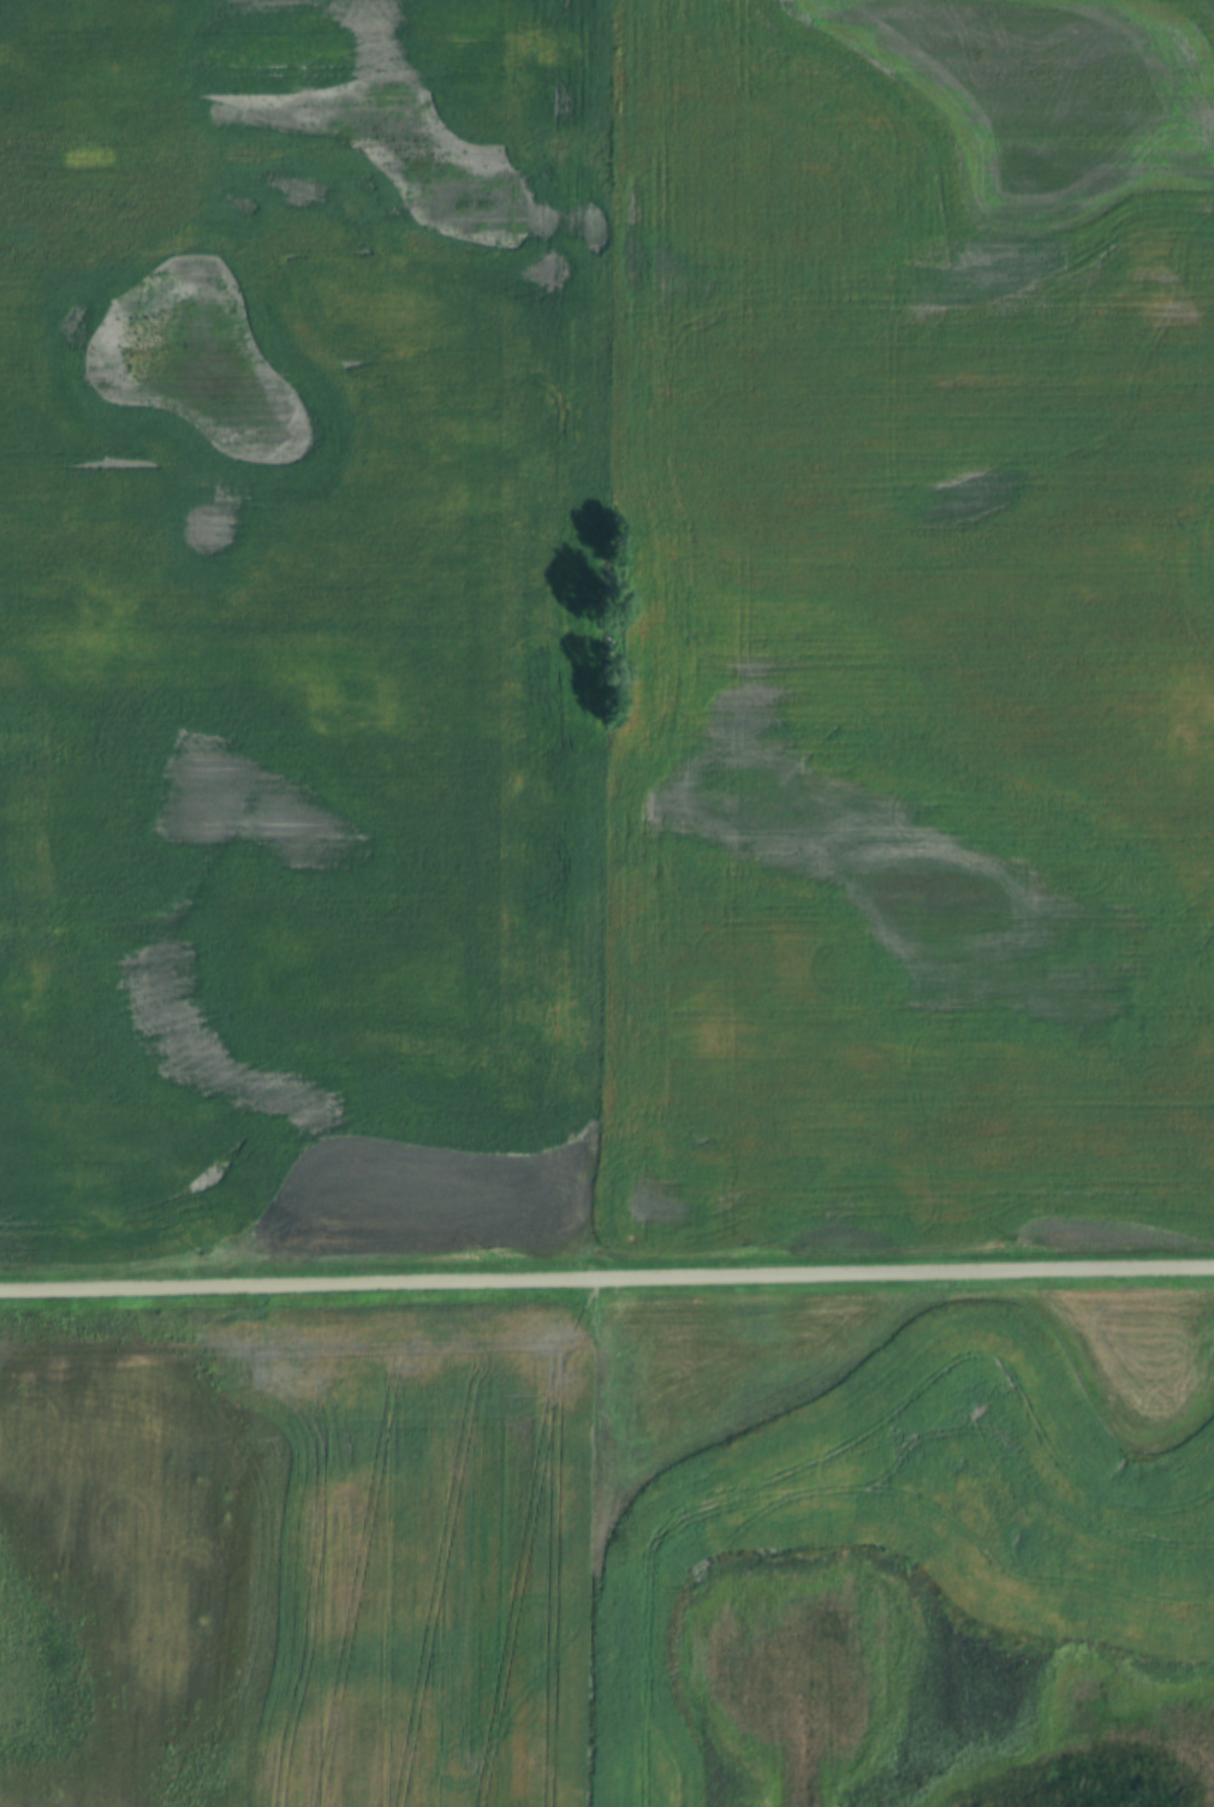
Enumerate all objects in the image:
road: (606, 1282)

